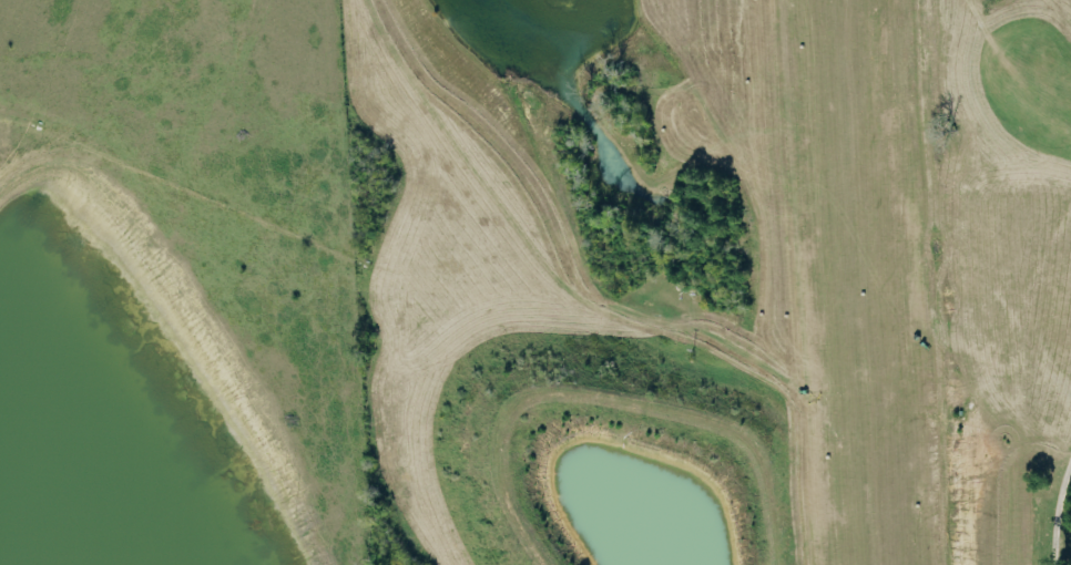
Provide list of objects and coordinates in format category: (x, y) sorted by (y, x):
road: (1059, 513)

